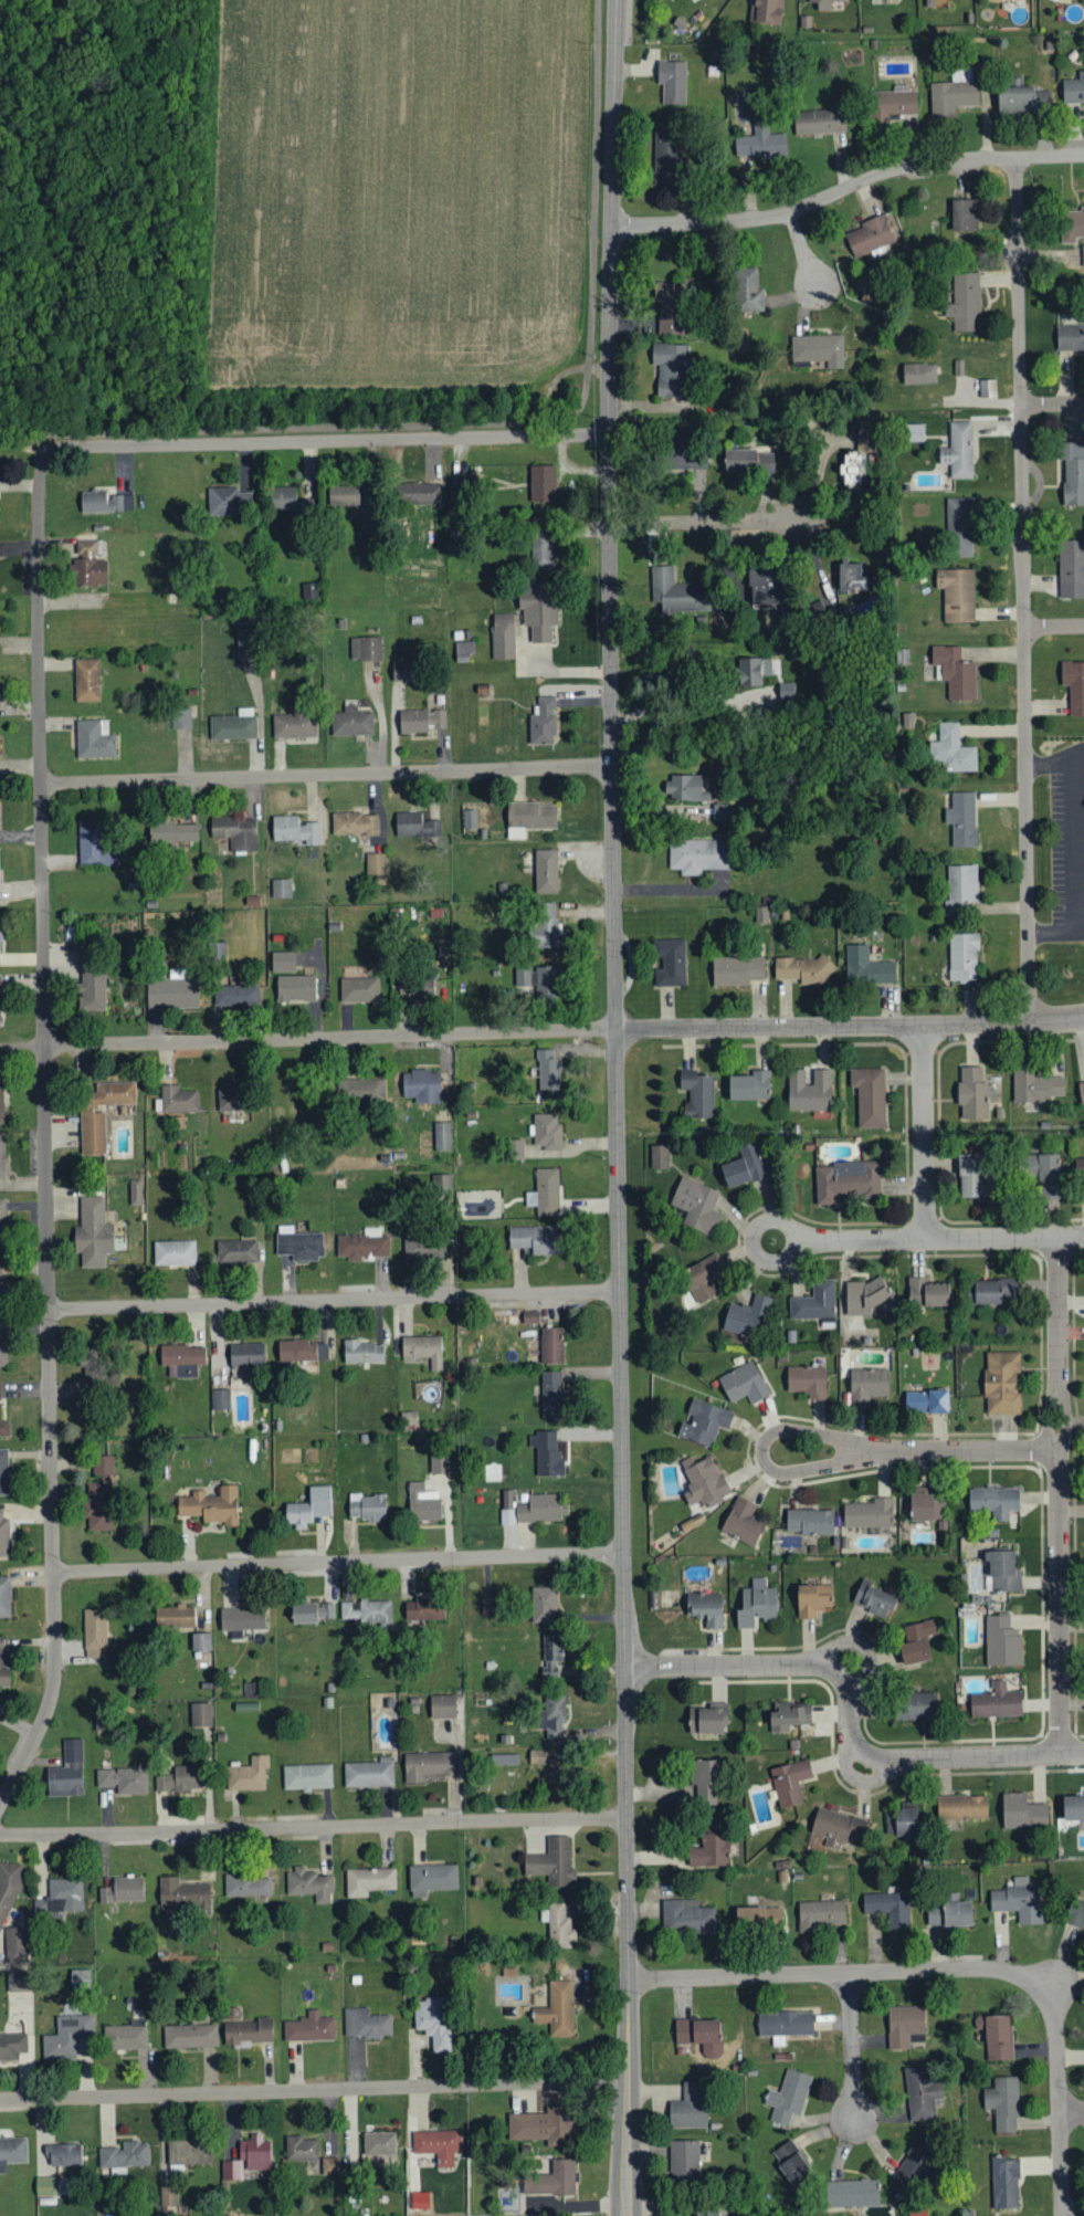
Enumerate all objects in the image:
building: (830, 4)
building: (766, 11)
building: (672, 82)
building: (1073, 90)
building: (954, 93)
building: (1022, 101)
building: (893, 105)
building: (819, 122)
building: (760, 143)
road: (55, 151)
building: (665, 157)
road: (846, 187)
building: (964, 219)
building: (1075, 223)
building: (870, 238)
road: (802, 250)
building: (1083, 256)
building: (747, 291)
building: (965, 303)
building: (670, 308)
building: (1070, 338)
building: (817, 351)
building: (671, 369)
building: (918, 374)
building: (987, 388)
road: (1052, 405)
road: (495, 422)
building: (914, 433)
road: (326, 440)
building: (958, 451)
building: (748, 462)
building: (852, 469)
building: (1073, 474)
building: (543, 484)
building: (457, 487)
building: (418, 494)
building: (343, 495)
building: (104, 502)
building: (228, 502)
building: (288, 502)
road: (707, 521)
building: (365, 523)
building: (959, 527)
building: (541, 548)
building: (88, 566)
building: (1071, 569)
building: (851, 578)
building: (766, 589)
road: (1022, 590)
building: (676, 594)
building: (957, 595)
building: (538, 609)
road: (1053, 627)
building: (503, 637)
building: (246, 641)
building: (464, 648)
building: (366, 649)
building: (401, 672)
road: (555, 672)
building: (753, 672)
building: (955, 673)
building: (87, 681)
building: (1074, 685)
road: (686, 694)
road: (262, 717)
building: (181, 718)
building: (420, 721)
building: (351, 723)
building: (543, 723)
building: (233, 726)
building: (294, 726)
building: (94, 739)
building: (951, 749)
road: (1055, 762)
road: (325, 774)
building: (684, 790)
building: (720, 813)
building: (529, 818)
building: (470, 819)
building: (961, 820)
building: (355, 825)
building: (415, 826)
building: (294, 831)
building: (171, 832)
building: (235, 833)
parking lot: (1064, 839)
building: (94, 847)
building: (698, 857)
building: (376, 863)
road: (1070, 867)
building: (546, 871)
building: (960, 888)
building: (281, 889)
building: (546, 924)
building: (0, 928)
building: (82, 954)
building: (962, 956)
building: (283, 960)
building: (671, 963)
building: (866, 965)
building: (736, 969)
building: (803, 969)
building: (523, 976)
building: (547, 981)
building: (415, 986)
building: (296, 988)
building: (359, 988)
building: (93, 990)
building: (172, 990)
building: (236, 995)
building: (0, 1012)
road: (541, 1018)
road: (564, 1030)
road: (22, 1046)
building: (546, 1069)
building: (422, 1085)
building: (749, 1085)
building: (1034, 1086)
building: (359, 1090)
building: (809, 1090)
building: (1081, 1091)
building: (698, 1092)
building: (972, 1093)
building: (869, 1095)
building: (1, 1098)
building: (178, 1099)
building: (229, 1100)
road: (617, 1107)
building: (101, 1112)
building: (546, 1131)
road: (924, 1133)
road: (45, 1134)
building: (441, 1135)
building: (515, 1148)
building: (2, 1155)
building: (659, 1156)
building: (744, 1166)
building: (1043, 1173)
building: (975, 1177)
building: (845, 1180)
building: (445, 1185)
building: (135, 1191)
building: (544, 1193)
building: (697, 1205)
building: (2, 1219)
building: (93, 1233)
building: (536, 1238)
road: (943, 1239)
road: (753, 1241)
building: (298, 1243)
building: (362, 1243)
building: (424, 1247)
building: (236, 1251)
building: (173, 1252)
building: (702, 1278)
building: (1, 1283)
building: (994, 1290)
building: (927, 1292)
building: (865, 1296)
road: (335, 1301)
building: (814, 1301)
building: (530, 1316)
building: (746, 1316)
building: (551, 1344)
building: (2, 1345)
building: (423, 1348)
building: (323, 1351)
building: (361, 1352)
building: (298, 1353)
building: (246, 1354)
building: (179, 1358)
building: (97, 1366)
building: (807, 1380)
building: (1001, 1382)
building: (743, 1383)
building: (867, 1384)
building: (551, 1394)
building: (220, 1398)
building: (926, 1400)
building: (3, 1421)
building: (704, 1422)
road: (849, 1447)
building: (546, 1452)
building: (439, 1462)
building: (3, 1471)
building: (702, 1480)
building: (99, 1494)
road: (1060, 1498)
building: (994, 1501)
building: (423, 1502)
building: (211, 1505)
building: (366, 1506)
building: (507, 1506)
building: (926, 1506)
building: (309, 1508)
building: (541, 1508)
building: (869, 1513)
building: (743, 1521)
building: (809, 1521)
building: (3, 1536)
road: (338, 1564)
building: (1003, 1572)
building: (4, 1597)
building: (812, 1599)
building: (874, 1599)
building: (544, 1604)
building: (756, 1604)
building: (487, 1606)
building: (705, 1607)
building: (423, 1609)
building: (311, 1611)
building: (368, 1611)
building: (175, 1617)
building: (242, 1618)
building: (920, 1629)
building: (95, 1632)
building: (201, 1641)
building: (1002, 1641)
road: (865, 1645)
building: (914, 1651)
building: (551, 1656)
building: (2, 1662)
building: (996, 1702)
building: (442, 1705)
building: (914, 1706)
building: (200, 1714)
building: (551, 1715)
building: (786, 1716)
road: (851, 1719)
building: (707, 1720)
building: (536, 1756)
building: (504, 1760)
building: (428, 1766)
building: (66, 1771)
building: (368, 1773)
building: (248, 1774)
building: (558, 1775)
building: (306, 1776)
road: (860, 1777)
building: (179, 1779)
building: (123, 1781)
building: (704, 1782)
building: (789, 1782)
building: (1083, 1790)
building: (961, 1807)
building: (1073, 1807)
building: (1022, 1811)
building: (902, 1821)
road: (313, 1827)
building: (835, 1827)
building: (711, 1845)
building: (551, 1862)
building: (431, 1879)
building: (368, 1881)
building: (309, 1884)
building: (246, 1886)
building: (8, 1887)
building: (123, 1890)
building: (182, 1893)
building: (64, 1895)
building: (1019, 1900)
building: (888, 1908)
building: (1076, 1912)
building: (821, 1913)
building: (948, 1913)
building: (688, 1915)
building: (758, 1918)
building: (558, 1925)
building: (15, 1945)
road: (843, 1973)
building: (80, 1979)
building: (17, 1981)
building: (557, 2009)
building: (232, 2014)
building: (432, 2023)
building: (365, 2024)
building: (785, 2025)
building: (904, 2025)
building: (309, 2028)
building: (246, 2033)
building: (699, 2035)
building: (66, 2036)
building: (190, 2036)
building: (996, 2036)
building: (124, 2038)
building: (12, 2046)
road: (852, 2046)
road: (314, 2090)
building: (920, 2093)
building: (788, 2097)
road: (1059, 2099)
building: (1002, 2103)
building: (688, 2107)
road: (1072, 2113)
building: (543, 2126)
building: (378, 2144)
building: (438, 2145)
building: (301, 2149)
building: (12, 2152)
building: (188, 2152)
building: (255, 2153)
building: (63, 2154)
building: (125, 2155)
building: (684, 2162)
building: (791, 2163)
building: (915, 2163)
building: (329, 2166)
building: (232, 2171)
building: (552, 2180)
building: (1004, 2183)
building: (851, 2193)
building: (168, 2196)
building: (419, 2201)
building: (706, 2213)

